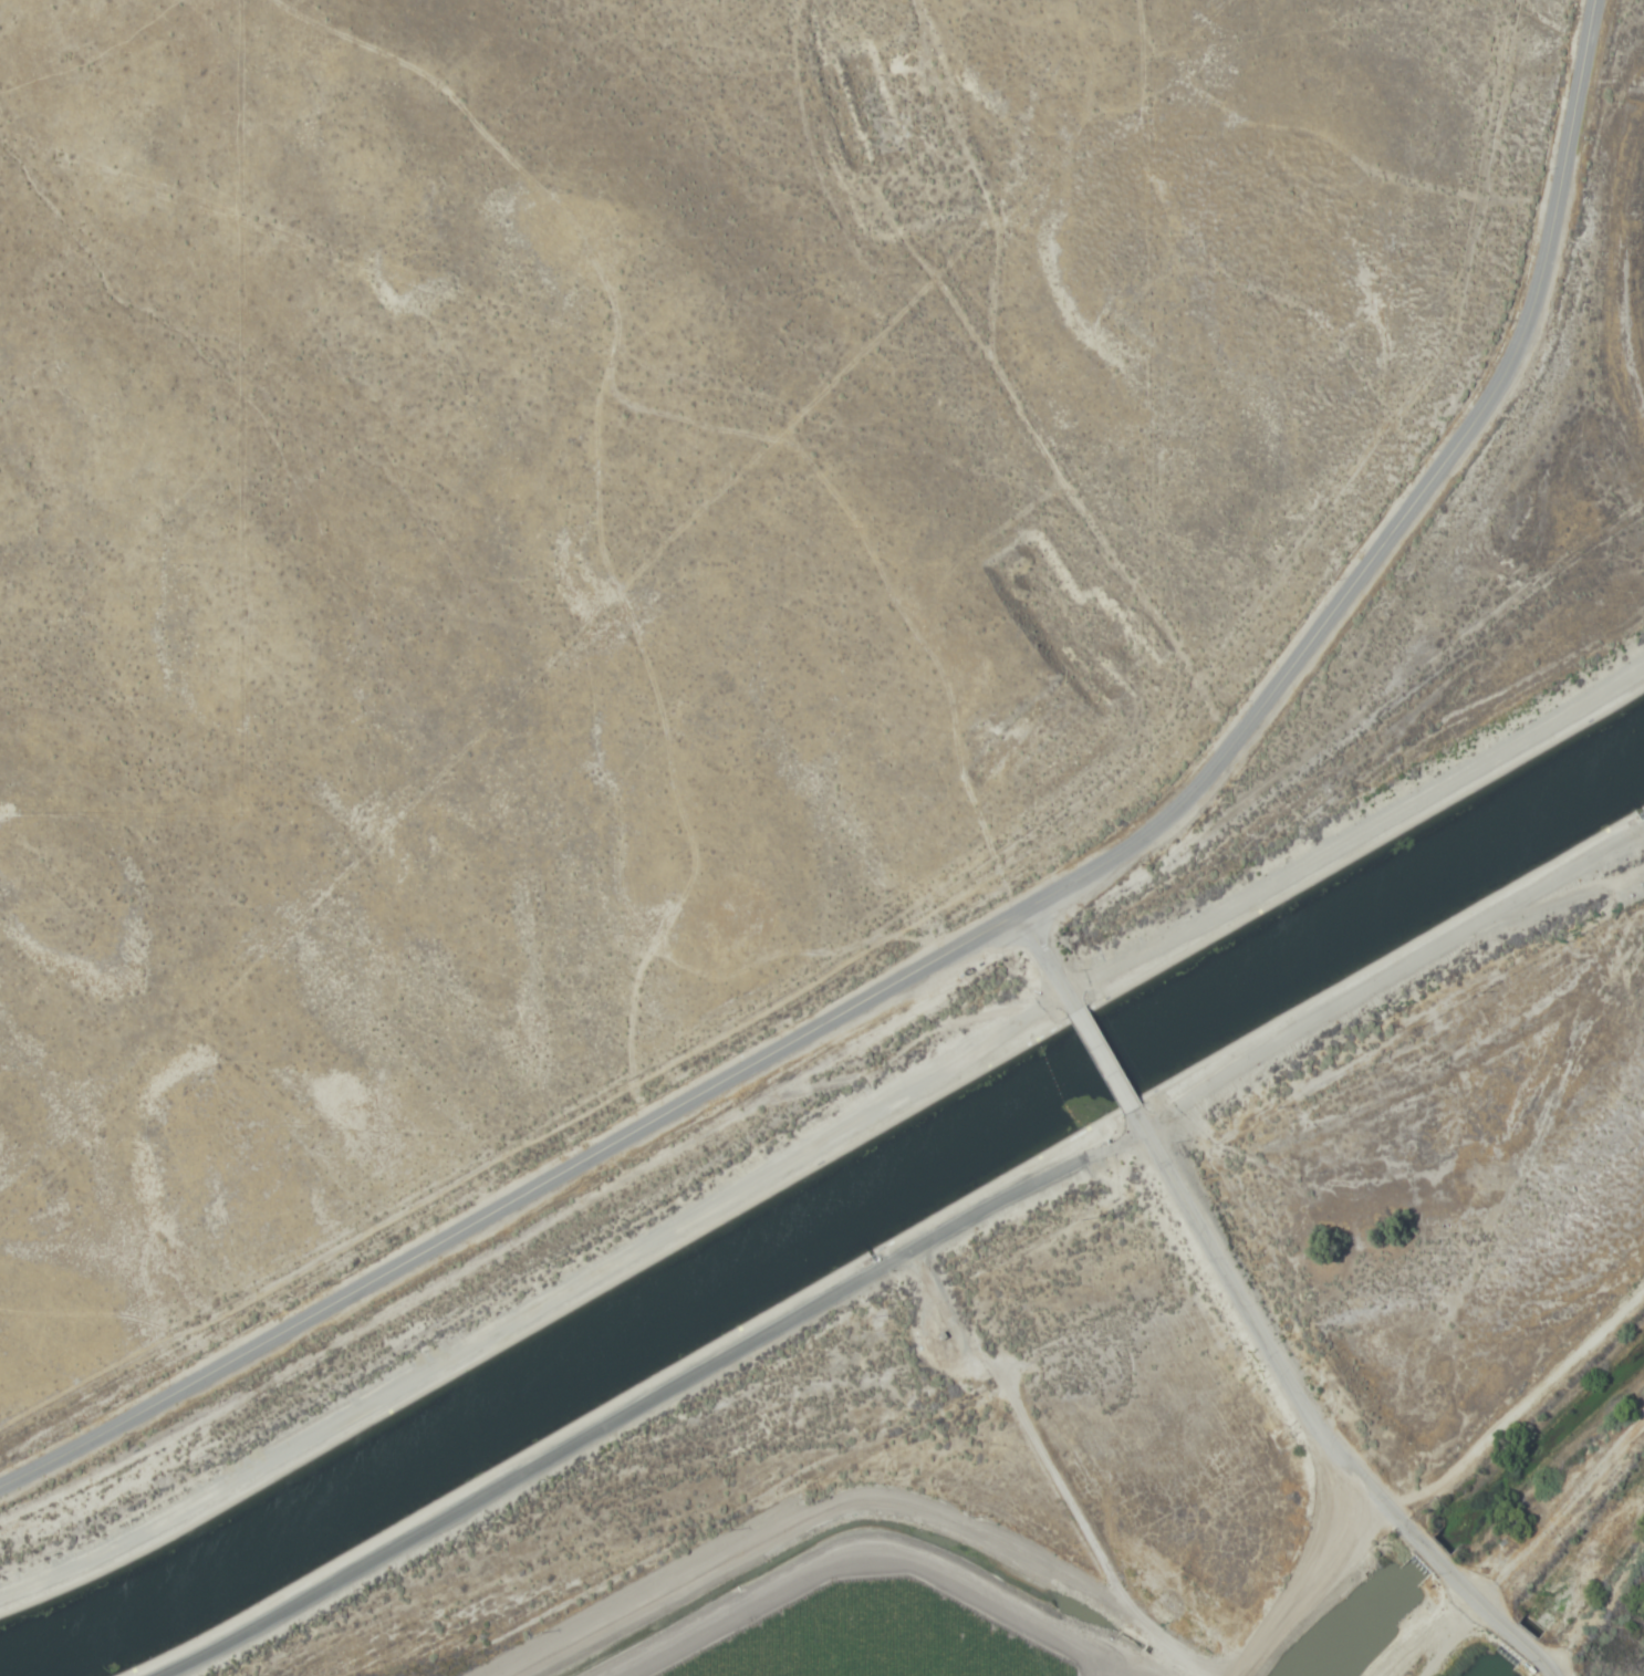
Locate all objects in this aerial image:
crop: (628, 532)
road: (997, 924)
road: (1049, 959)
road: (1362, 990)
road: (1103, 1059)
road: (828, 1138)
road: (1262, 1335)
road: (618, 1416)
road: (1454, 1576)
road: (1303, 1578)
crop: (840, 1596)
road: (1498, 1621)
road: (1529, 1653)

